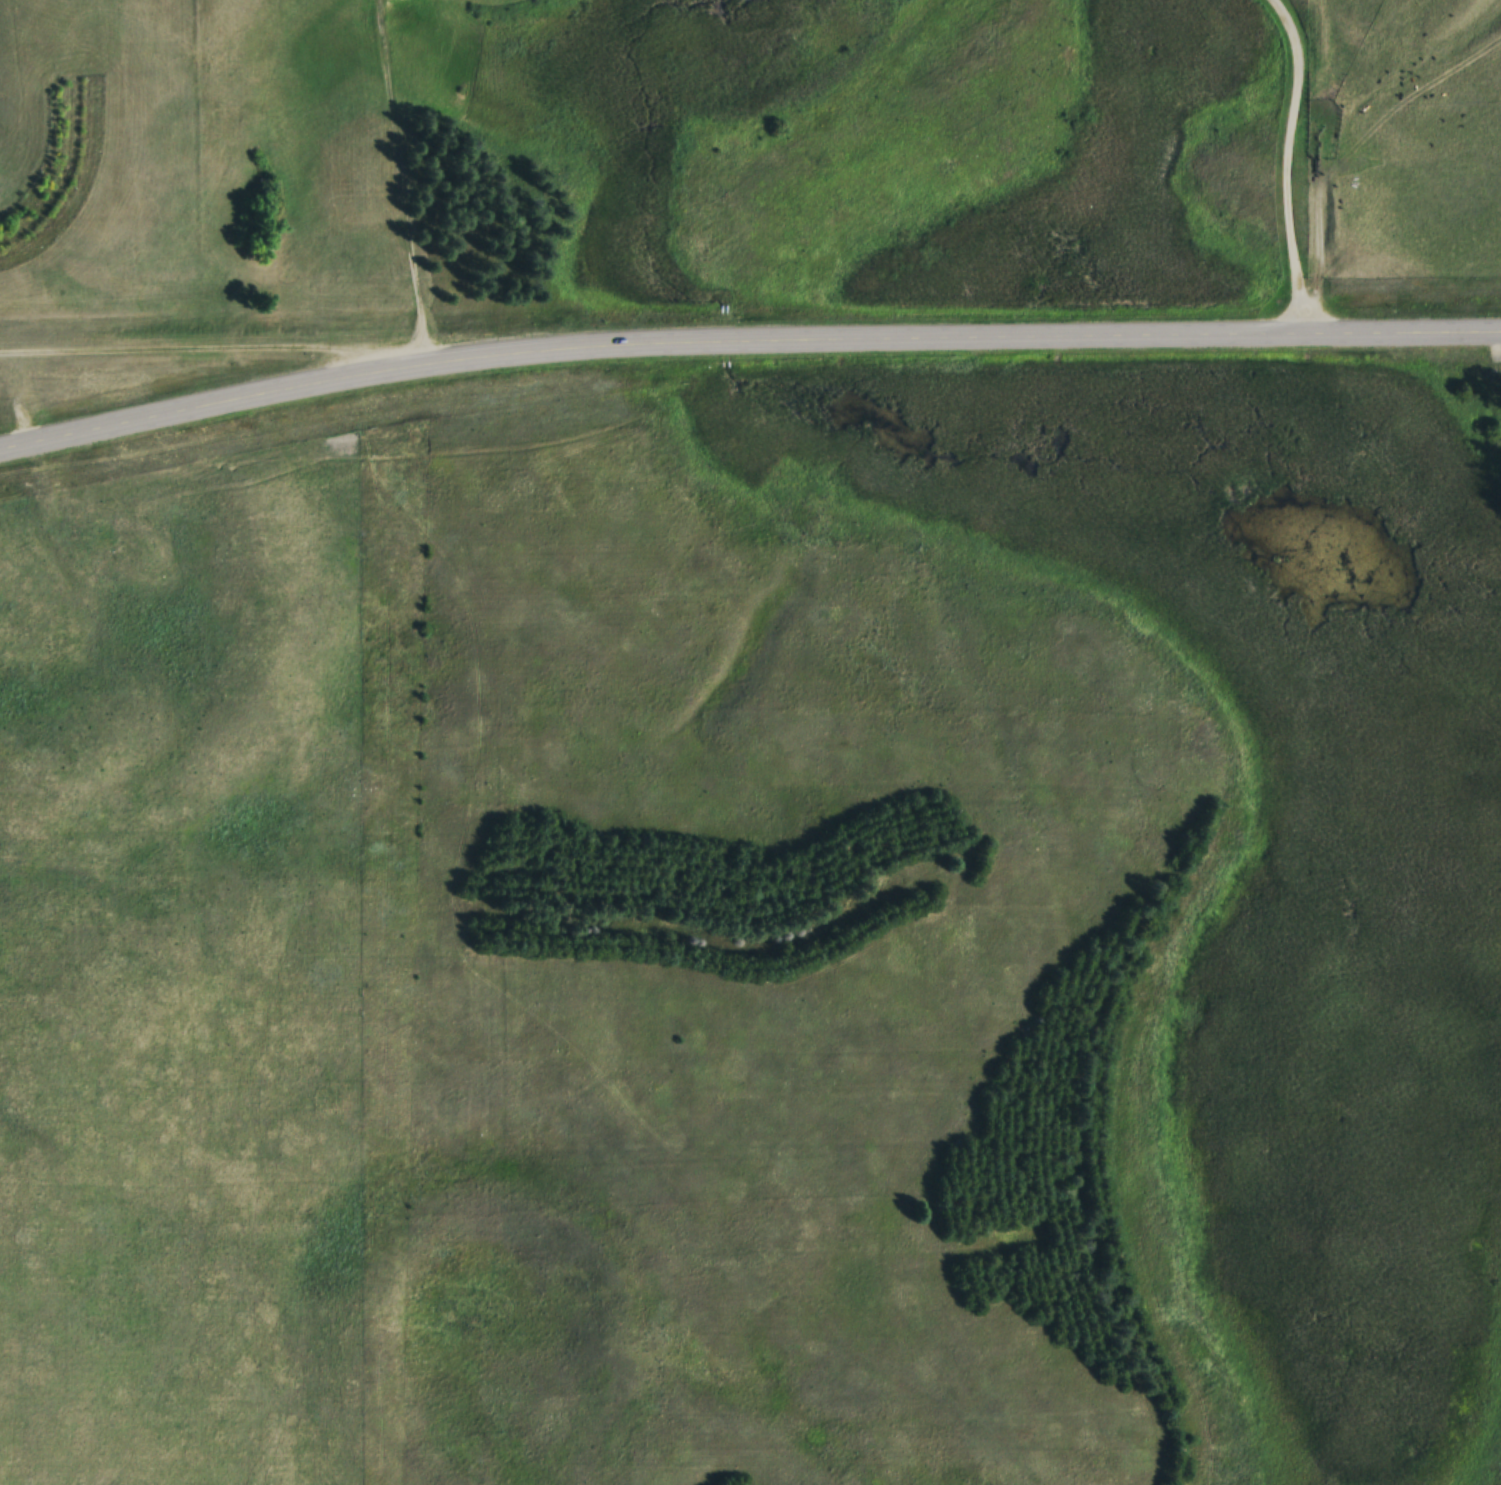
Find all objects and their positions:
road: (1295, 164)
road: (745, 345)
road: (196, 354)
road: (414, 361)

